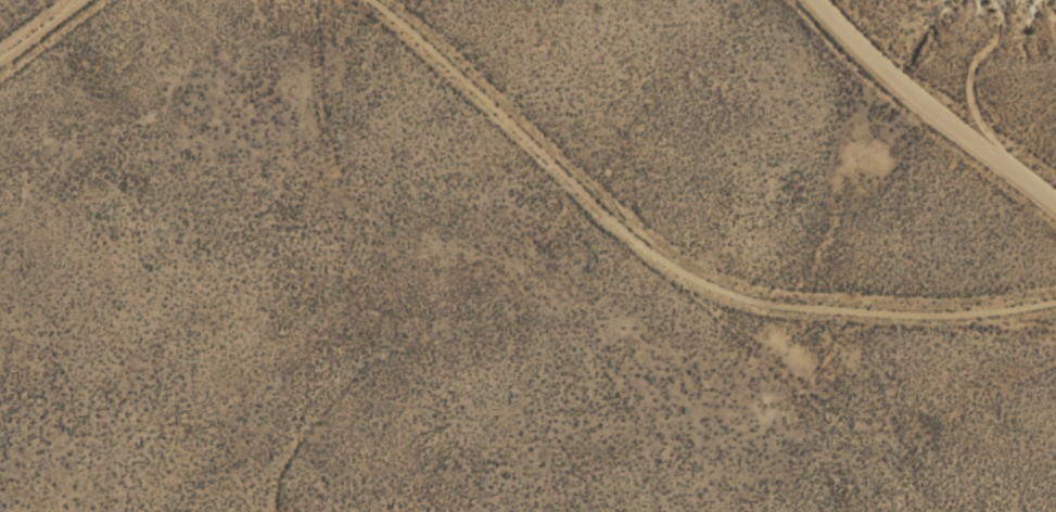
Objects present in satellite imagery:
road: (929, 110)

